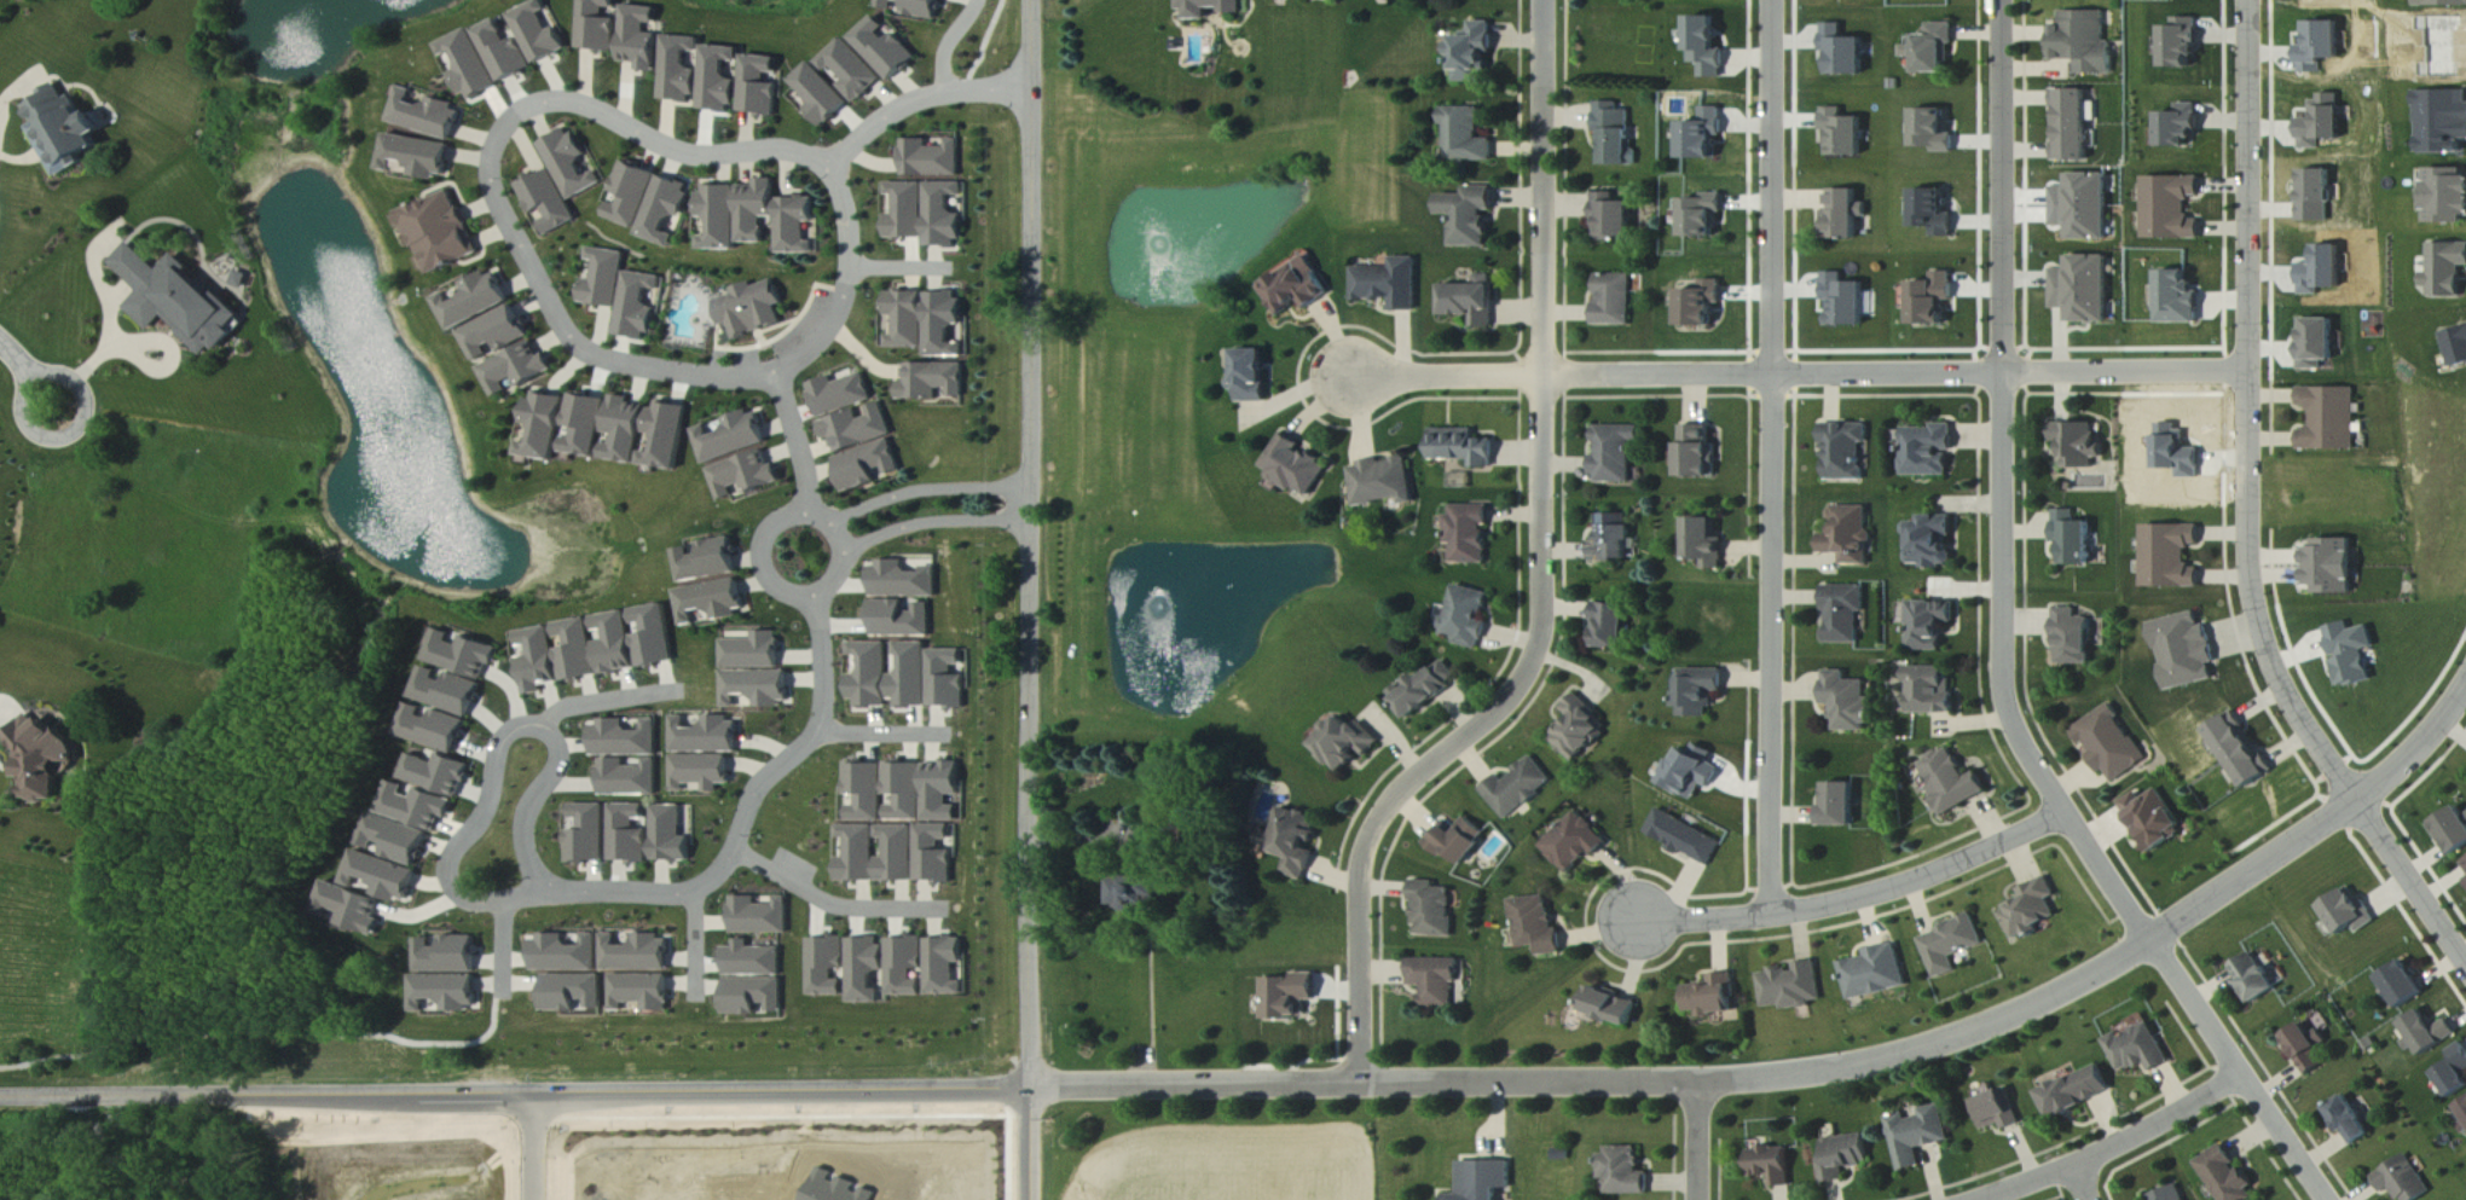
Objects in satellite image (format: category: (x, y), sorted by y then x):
building: (2442, 4)
building: (916, 7)
building: (1211, 8)
building: (600, 25)
building: (540, 34)
building: (642, 39)
road: (951, 42)
building: (2086, 44)
building: (2186, 44)
building: (2322, 47)
building: (1707, 48)
building: (1937, 48)
building: (886, 50)
building: (1845, 52)
building: (504, 53)
building: (1474, 54)
building: (469, 65)
building: (681, 70)
building: (853, 71)
building: (720, 80)
building: (762, 87)
road: (13, 93)
building: (822, 95)
road: (917, 100)
building: (426, 116)
building: (2443, 122)
building: (2325, 123)
building: (2072, 127)
building: (2183, 127)
building: (62, 132)
building: (1935, 132)
building: (1845, 134)
building: (1468, 137)
building: (1613, 137)
building: (1704, 137)
building: (417, 156)
building: (931, 160)
building: (569, 166)
building: (631, 196)
building: (2317, 197)
building: (2447, 197)
building: (546, 203)
building: (2083, 208)
building: (2173, 209)
building: (664, 211)
building: (756, 211)
building: (905, 213)
building: (1934, 214)
building: (942, 216)
building: (1469, 216)
building: (1704, 216)
building: (1846, 216)
building: (1611, 219)
building: (718, 220)
building: (795, 227)
building: (440, 234)
road: (901, 269)
building: (2323, 272)
building: (2445, 272)
building: (602, 279)
building: (241, 280)
road: (538, 280)
building: (1389, 285)
building: (1296, 289)
building: (2084, 290)
road: (120, 298)
building: (2181, 300)
building: (176, 301)
building: (1614, 301)
building: (1935, 301)
building: (474, 302)
building: (1471, 302)
building: (1845, 302)
building: (636, 307)
building: (1703, 307)
building: (749, 309)
building: (905, 320)
building: (943, 325)
road: (111, 331)
building: (494, 335)
building: (2319, 344)
building: (2456, 348)
road: (137, 349)
building: (516, 371)
road: (28, 373)
road: (1801, 375)
building: (1251, 377)
building: (932, 382)
building: (839, 395)
building: (2331, 419)
building: (565, 428)
building: (857, 429)
building: (627, 431)
building: (668, 437)
building: (733, 439)
road: (799, 442)
building: (2082, 446)
building: (1463, 448)
building: (1929, 451)
building: (1846, 452)
building: (1615, 454)
building: (1697, 454)
road: (1773, 458)
building: (868, 466)
building: (1295, 468)
building: (747, 477)
building: (1384, 483)
road: (928, 492)
road: (2250, 511)
road: (937, 523)
road: (777, 527)
building: (1469, 533)
building: (1851, 535)
building: (2073, 537)
building: (1613, 538)
building: (1706, 541)
building: (1933, 541)
road: (1034, 544)
building: (2172, 555)
building: (708, 560)
building: (2332, 566)
road: (1542, 575)
building: (903, 580)
building: (712, 601)
building: (1843, 613)
building: (1466, 616)
building: (902, 619)
building: (1930, 624)
building: (1609, 625)
building: (2072, 637)
building: (635, 639)
road: (2003, 647)
building: (2187, 650)
building: (753, 651)
building: (2351, 653)
building: (463, 654)
building: (556, 655)
building: (870, 674)
building: (909, 674)
building: (945, 679)
building: (756, 686)
building: (1423, 689)
building: (447, 690)
building: (1930, 690)
building: (1700, 691)
road: (608, 700)
building: (1848, 701)
road: (5, 706)
building: (1578, 729)
building: (434, 730)
road: (882, 735)
building: (705, 736)
building: (624, 738)
building: (1347, 743)
building: (2111, 743)
building: (2242, 750)
building: (41, 756)
road: (498, 758)
building: (700, 771)
building: (1696, 771)
building: (438, 773)
building: (629, 778)
building: (1955, 781)
building: (1521, 788)
building: (864, 790)
building: (904, 790)
building: (940, 790)
building: (1841, 804)
building: (417, 807)
road: (748, 815)
building: (2155, 818)
building: (2451, 829)
building: (587, 834)
building: (627, 834)
building: (670, 835)
building: (1688, 837)
building: (399, 840)
building: (1459, 840)
building: (1299, 841)
building: (1580, 842)
building: (857, 853)
building: (896, 853)
building: (933, 853)
building: (2465, 863)
building: (383, 876)
building: (1138, 891)
road: (1860, 898)
road: (834, 905)
building: (351, 908)
building: (1434, 910)
building: (2033, 910)
building: (2348, 912)
building: (759, 916)
building: (1540, 924)
building: (1952, 945)
road: (503, 949)
building: (635, 953)
building: (563, 955)
building: (447, 956)
building: (751, 960)
building: (824, 966)
building: (904, 966)
building: (944, 966)
building: (863, 968)
building: (1877, 972)
building: (2254, 979)
building: (1436, 981)
building: (2404, 984)
building: (1793, 986)
building: (444, 992)
building: (571, 992)
building: (638, 992)
building: (749, 996)
building: (1286, 996)
building: (1713, 997)
building: (1613, 1007)
building: (2431, 1031)
building: (2308, 1048)
building: (2140, 1050)
building: (2455, 1072)
road: (1810, 1073)
road: (516, 1086)
building: (2078, 1091)
building: (2464, 1108)
building: (2351, 1121)
building: (1917, 1135)
road: (1697, 1141)
road: (538, 1143)
road: (1034, 1144)
road: (2117, 1147)
building: (1842, 1156)
building: (1772, 1165)
building: (1625, 1171)
building: (2228, 1176)
building: (1483, 1179)
building: (2404, 1179)
road: (2080, 1183)
building: (2169, 1194)

